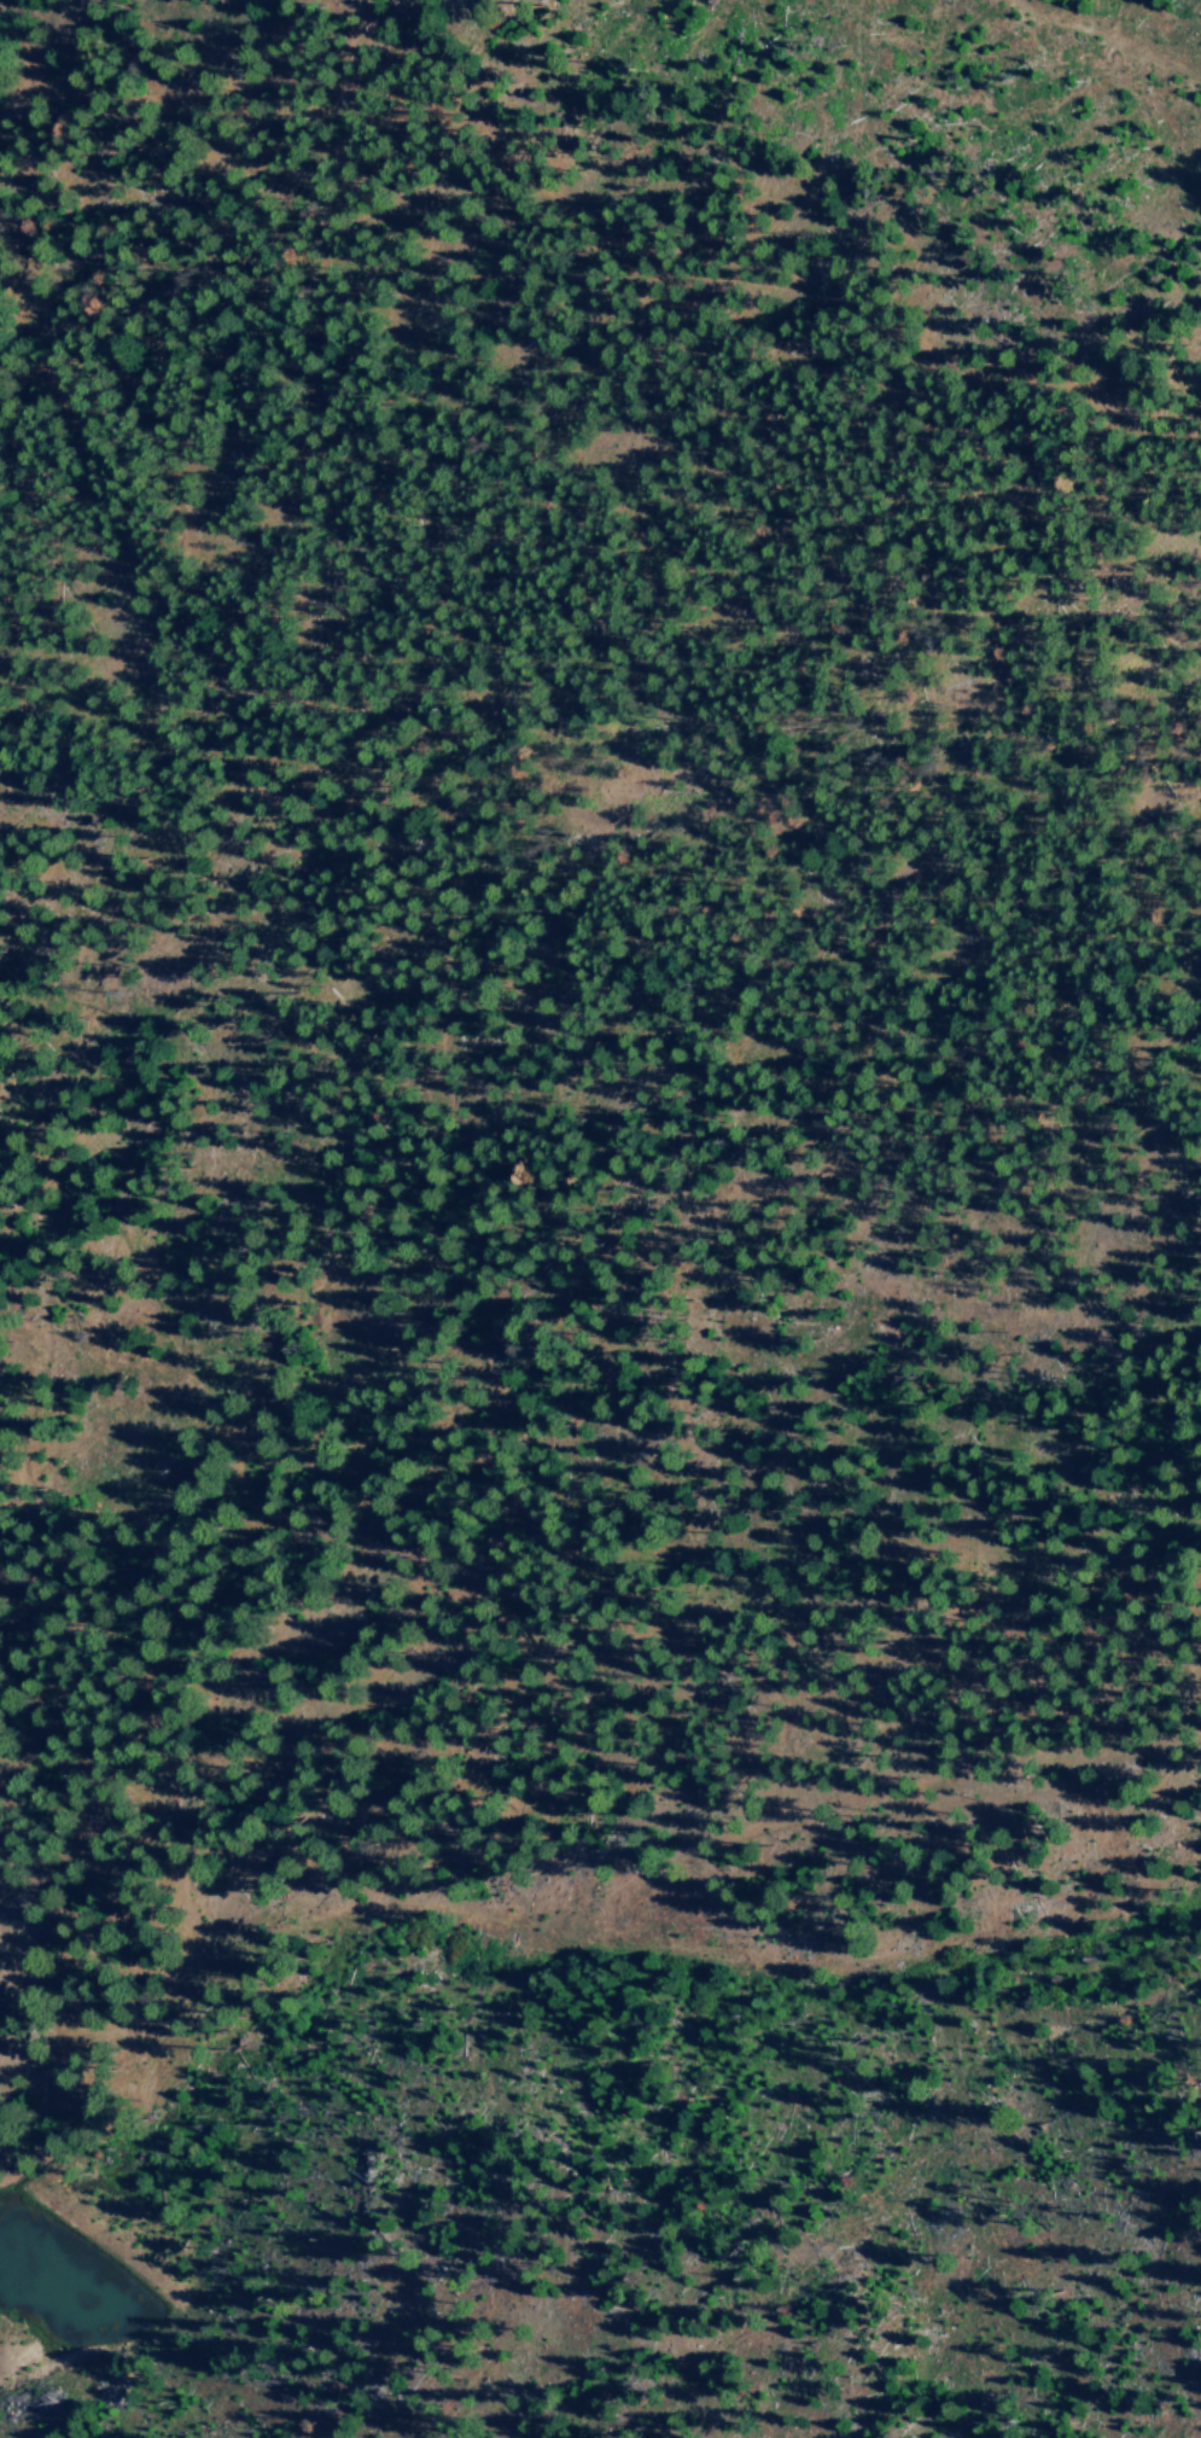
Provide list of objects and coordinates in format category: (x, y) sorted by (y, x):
dam: (99, 2241)

